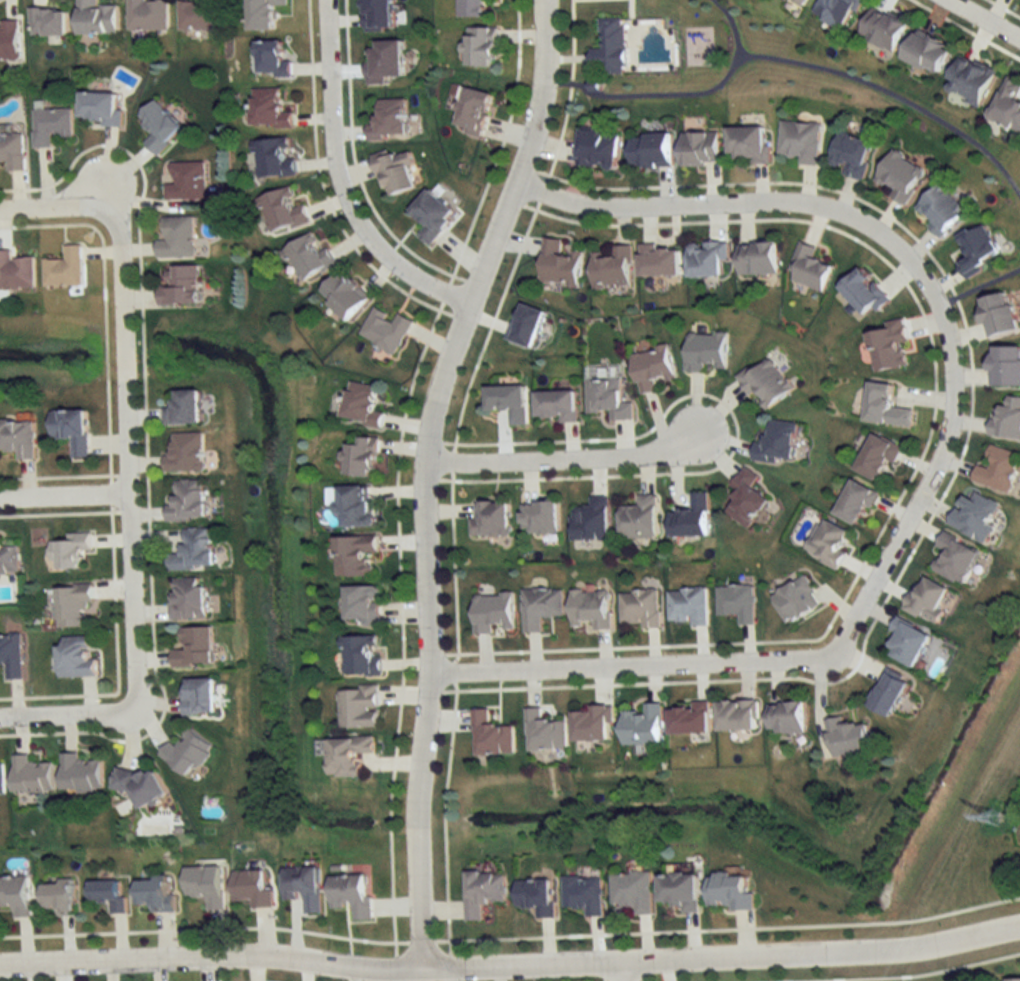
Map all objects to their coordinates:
building: (799, 2)
building: (470, 8)
building: (835, 11)
building: (262, 14)
building: (147, 15)
building: (195, 15)
building: (376, 15)
building: (95, 18)
road: (979, 21)
building: (47, 22)
building: (881, 30)
building: (8, 40)
building: (478, 47)
building: (609, 48)
building: (926, 53)
building: (270, 60)
building: (383, 61)
building: (970, 79)
road: (690, 104)
building: (1007, 104)
road: (892, 105)
building: (98, 108)
building: (268, 109)
building: (471, 111)
building: (388, 120)
building: (49, 126)
building: (158, 126)
building: (800, 141)
building: (748, 143)
building: (700, 148)
building: (597, 149)
building: (651, 149)
building: (11, 151)
building: (851, 155)
building: (272, 158)
building: (393, 171)
building: (899, 176)
building: (185, 181)
road: (341, 183)
road: (55, 203)
road: (745, 204)
building: (940, 209)
building: (282, 211)
building: (430, 216)
building: (176, 238)
building: (977, 249)
building: (308, 257)
building: (706, 258)
building: (756, 259)
building: (659, 260)
building: (559, 264)
building: (612, 268)
building: (808, 268)
building: (63, 269)
building: (15, 273)
building: (177, 286)
building: (863, 292)
building: (342, 295)
road: (979, 296)
building: (998, 314)
building: (525, 325)
building: (385, 330)
building: (888, 346)
road: (126, 348)
building: (706, 352)
building: (1005, 366)
building: (652, 368)
building: (765, 383)
building: (607, 396)
building: (507, 402)
building: (361, 405)
building: (555, 405)
building: (885, 406)
building: (181, 408)
building: (1007, 419)
building: (71, 430)
building: (18, 437)
building: (777, 443)
building: (184, 453)
building: (359, 458)
building: (877, 458)
road: (569, 463)
building: (997, 469)
road: (422, 473)
road: (65, 491)
road: (928, 496)
building: (746, 499)
building: (186, 501)
building: (856, 503)
building: (355, 507)
building: (974, 515)
building: (539, 517)
building: (691, 518)
building: (490, 519)
building: (639, 519)
building: (591, 520)
building: (828, 542)
building: (193, 550)
building: (67, 553)
building: (354, 556)
building: (954, 559)
building: (9, 561)
road: (134, 597)
building: (186, 598)
building: (797, 599)
building: (738, 602)
building: (926, 602)
building: (361, 606)
building: (689, 606)
building: (74, 607)
building: (540, 608)
building: (641, 608)
building: (591, 609)
building: (492, 613)
building: (908, 643)
building: (193, 648)
building: (359, 656)
building: (11, 657)
building: (76, 657)
road: (634, 670)
building: (888, 695)
building: (198, 696)
building: (357, 707)
road: (66, 710)
building: (738, 716)
building: (787, 718)
building: (691, 719)
building: (592, 724)
building: (641, 725)
building: (544, 733)
building: (490, 736)
building: (847, 738)
building: (187, 753)
building: (345, 754)
building: (80, 774)
building: (31, 775)
building: (1, 779)
building: (140, 786)
power tower: (1002, 817)
building: (205, 884)
building: (303, 885)
building: (251, 888)
building: (681, 889)
building: (633, 890)
building: (730, 891)
building: (156, 892)
building: (483, 892)
building: (585, 893)
building: (16, 894)
building: (108, 894)
building: (351, 895)
building: (537, 895)
building: (57, 896)
road: (510, 964)
road: (626, 970)
building: (1014, 978)

